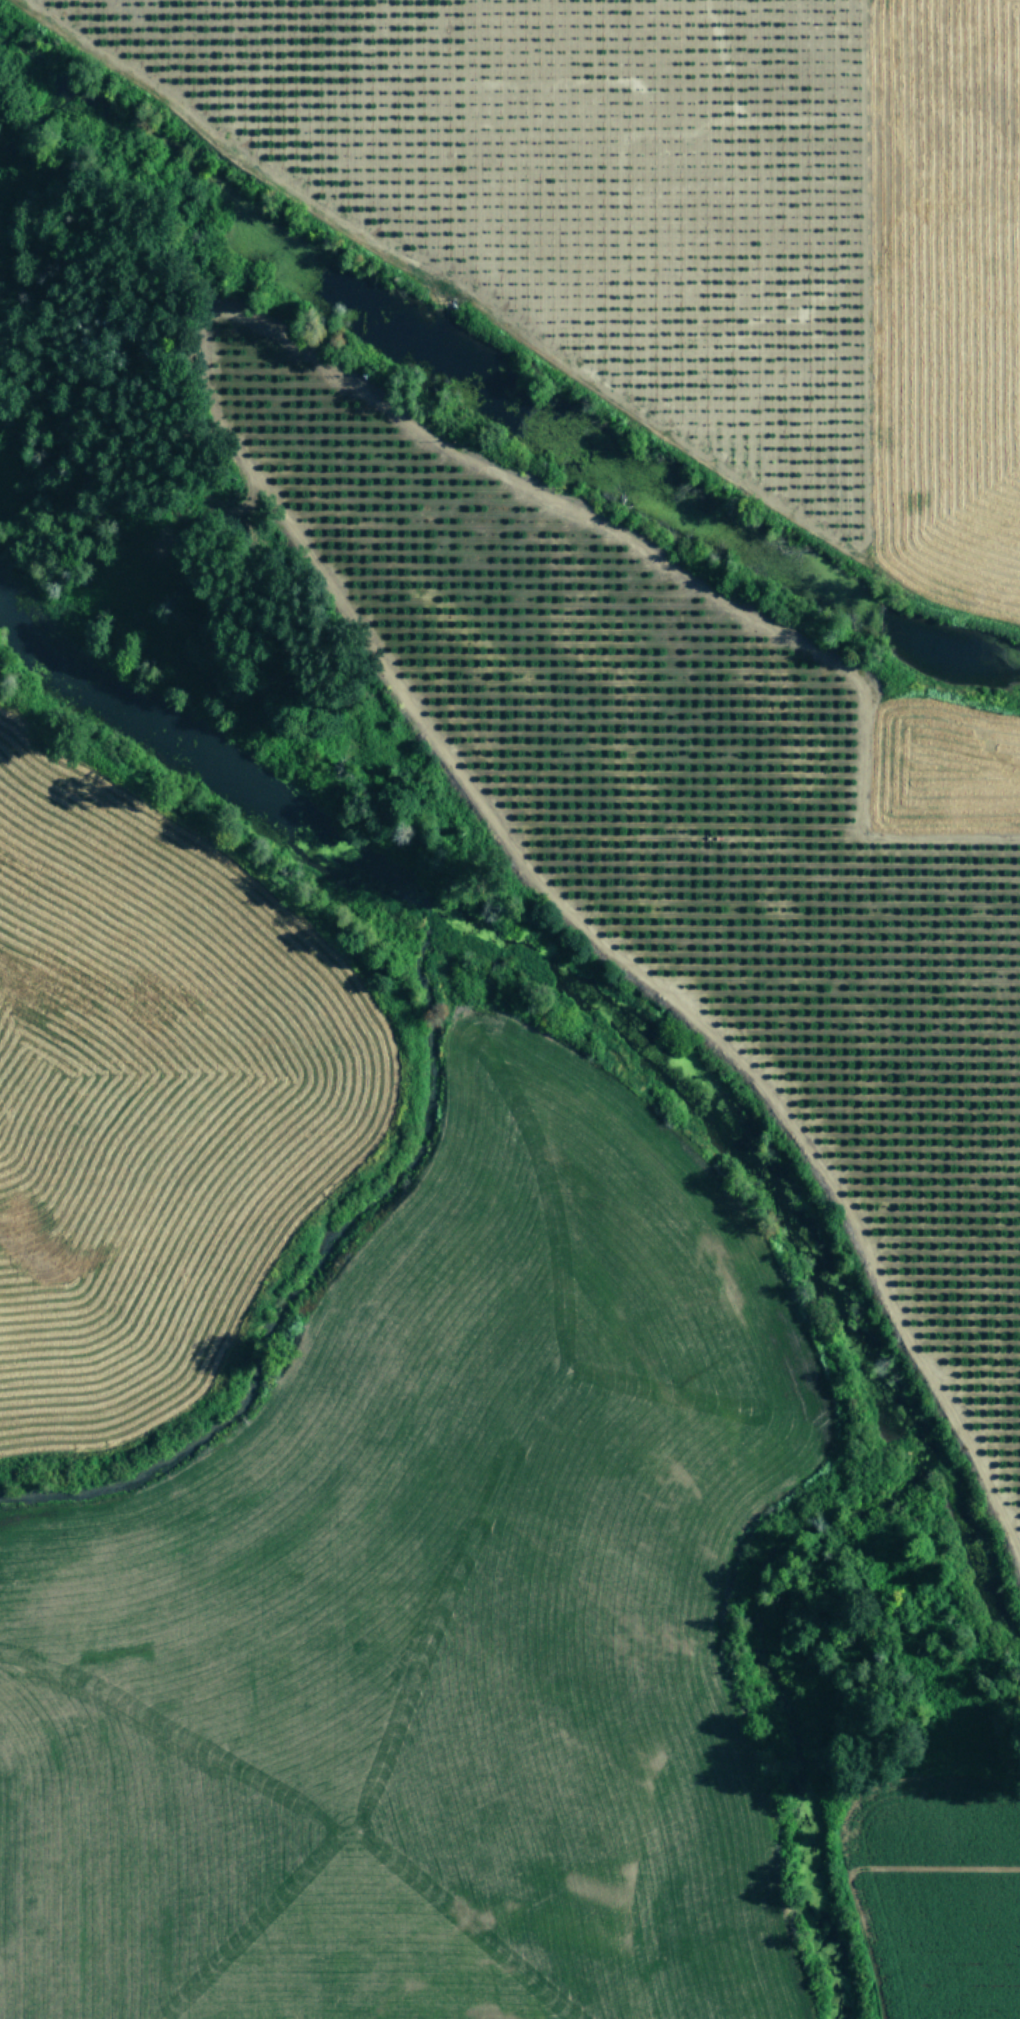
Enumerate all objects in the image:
crop: (679, 229)
crop: (708, 837)
crop: (349, 1485)
crop: (943, 1907)

